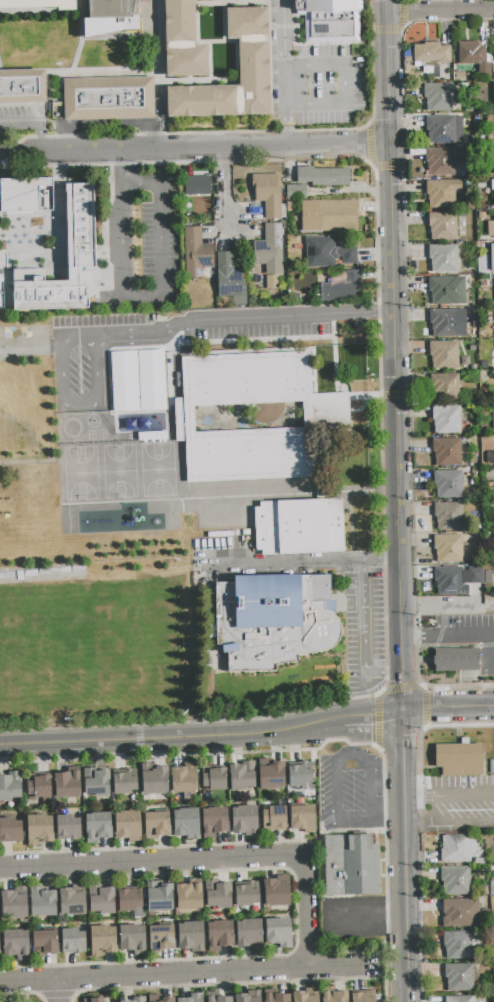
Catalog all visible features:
building: (38, 4)
road: (439, 11)
building: (330, 19)
building: (113, 21)
building: (184, 41)
building: (431, 53)
building: (493, 53)
road: (284, 54)
building: (471, 54)
building: (255, 61)
building: (459, 75)
road: (346, 83)
building: (23, 87)
building: (493, 95)
building: (438, 97)
building: (110, 99)
building: (469, 108)
building: (488, 108)
building: (469, 116)
road: (35, 120)
road: (287, 127)
building: (493, 127)
building: (440, 129)
building: (467, 138)
road: (194, 147)
building: (493, 157)
building: (440, 161)
road: (123, 165)
building: (322, 176)
road: (225, 184)
building: (197, 185)
building: (296, 192)
building: (443, 192)
building: (492, 192)
building: (268, 194)
building: (26, 196)
building: (337, 215)
building: (482, 215)
building: (80, 225)
building: (442, 226)
building: (490, 229)
road: (124, 240)
road: (161, 240)
building: (481, 245)
building: (270, 250)
building: (196, 253)
building: (327, 253)
building: (492, 256)
building: (443, 258)
building: (482, 264)
building: (470, 267)
road: (393, 278)
building: (230, 279)
building: (272, 282)
building: (343, 289)
building: (447, 290)
building: (0, 292)
building: (491, 313)
road: (244, 317)
building: (475, 321)
building: (443, 322)
road: (78, 332)
building: (485, 343)
building: (472, 348)
building: (443, 354)
building: (491, 360)
building: (465, 361)
building: (473, 368)
building: (157, 373)
building: (123, 375)
building: (444, 388)
road: (79, 406)
building: (493, 416)
building: (325, 417)
building: (446, 419)
building: (487, 441)
building: (446, 451)
building: (489, 457)
building: (448, 484)
building: (448, 516)
building: (299, 527)
building: (448, 548)
road: (306, 562)
building: (475, 576)
building: (488, 577)
building: (449, 580)
road: (447, 603)
building: (272, 621)
road: (363, 622)
road: (419, 637)
parking lot: (464, 637)
road: (466, 637)
park: (90, 649)
road: (491, 653)
building: (456, 659)
road: (448, 706)
road: (371, 717)
road: (169, 739)
building: (459, 759)
road: (338, 765)
building: (300, 774)
building: (242, 775)
building: (272, 775)
building: (185, 778)
building: (215, 779)
road: (404, 779)
building: (155, 780)
building: (125, 782)
building: (67, 784)
building: (98, 784)
building: (10, 786)
building: (39, 786)
parking lot: (350, 790)
road: (449, 793)
parking lot: (459, 804)
building: (274, 818)
building: (302, 818)
road: (386, 818)
building: (244, 820)
road: (454, 820)
building: (214, 821)
building: (187, 823)
building: (128, 825)
building: (156, 825)
building: (98, 826)
building: (68, 828)
building: (39, 829)
building: (10, 830)
building: (454, 848)
road: (207, 862)
building: (351, 864)
building: (455, 880)
building: (491, 890)
building: (485, 891)
building: (276, 893)
building: (246, 895)
building: (189, 896)
building: (220, 896)
building: (160, 898)
building: (129, 900)
building: (103, 901)
building: (13, 902)
building: (43, 902)
building: (72, 902)
building: (460, 912)
road: (367, 916)
parking lot: (353, 917)
building: (279, 932)
building: (220, 934)
building: (249, 934)
building: (191, 936)
building: (133, 938)
building: (161, 938)
building: (73, 941)
building: (102, 941)
building: (44, 943)
building: (16, 944)
building: (457, 945)
road: (393, 967)
road: (188, 975)
building: (458, 977)
road: (63, 991)
building: (306, 995)
park: (24, 996)
building: (334, 996)
building: (363, 996)
building: (248, 997)
building: (277, 997)
building: (191, 998)
building: (137, 999)
building: (166, 999)
building: (219, 999)
building: (459, 999)
building: (96, 1000)

